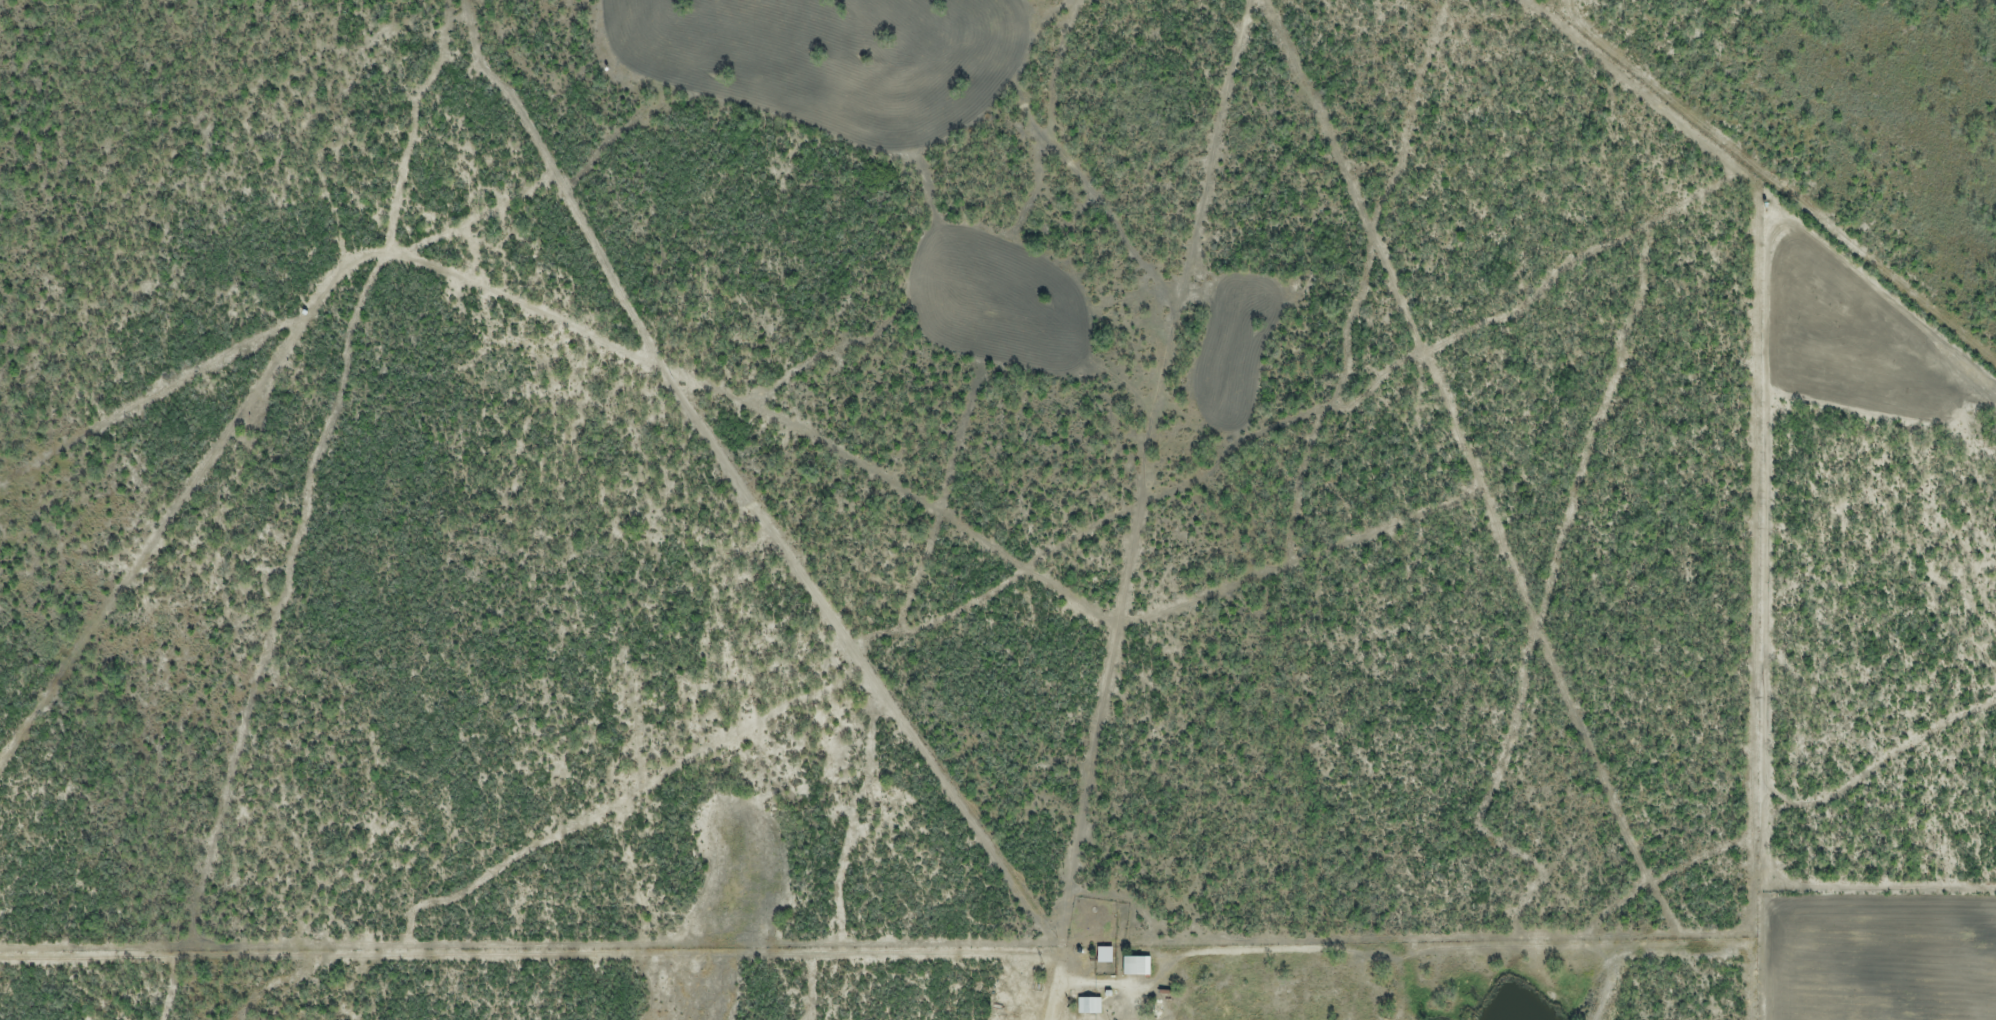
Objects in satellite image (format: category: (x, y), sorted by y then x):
building: (1136, 967)
road: (1058, 988)
building: (1089, 1007)

